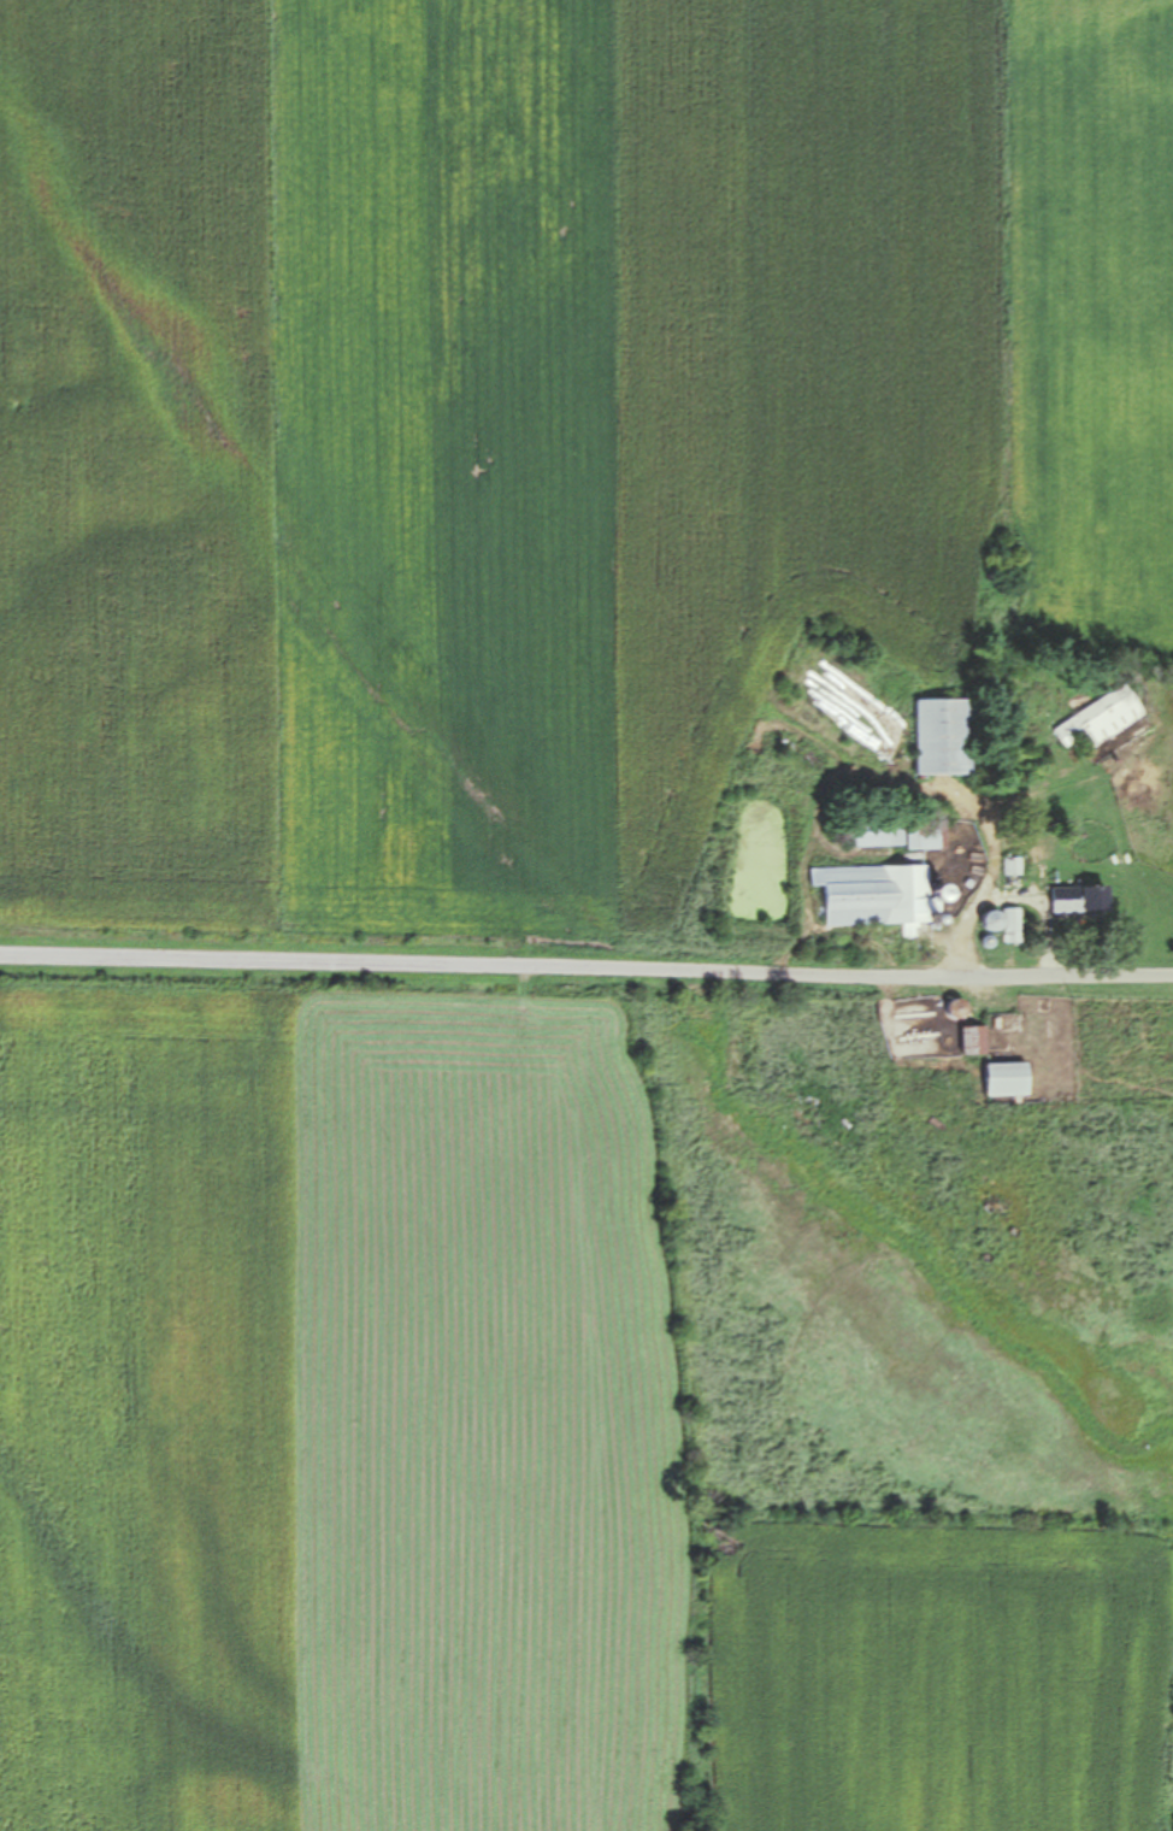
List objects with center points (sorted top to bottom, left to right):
building: (1098, 718)
building: (942, 735)
building: (872, 831)
building: (924, 834)
building: (876, 894)
building: (1078, 899)
road: (585, 966)
building: (1006, 1077)

